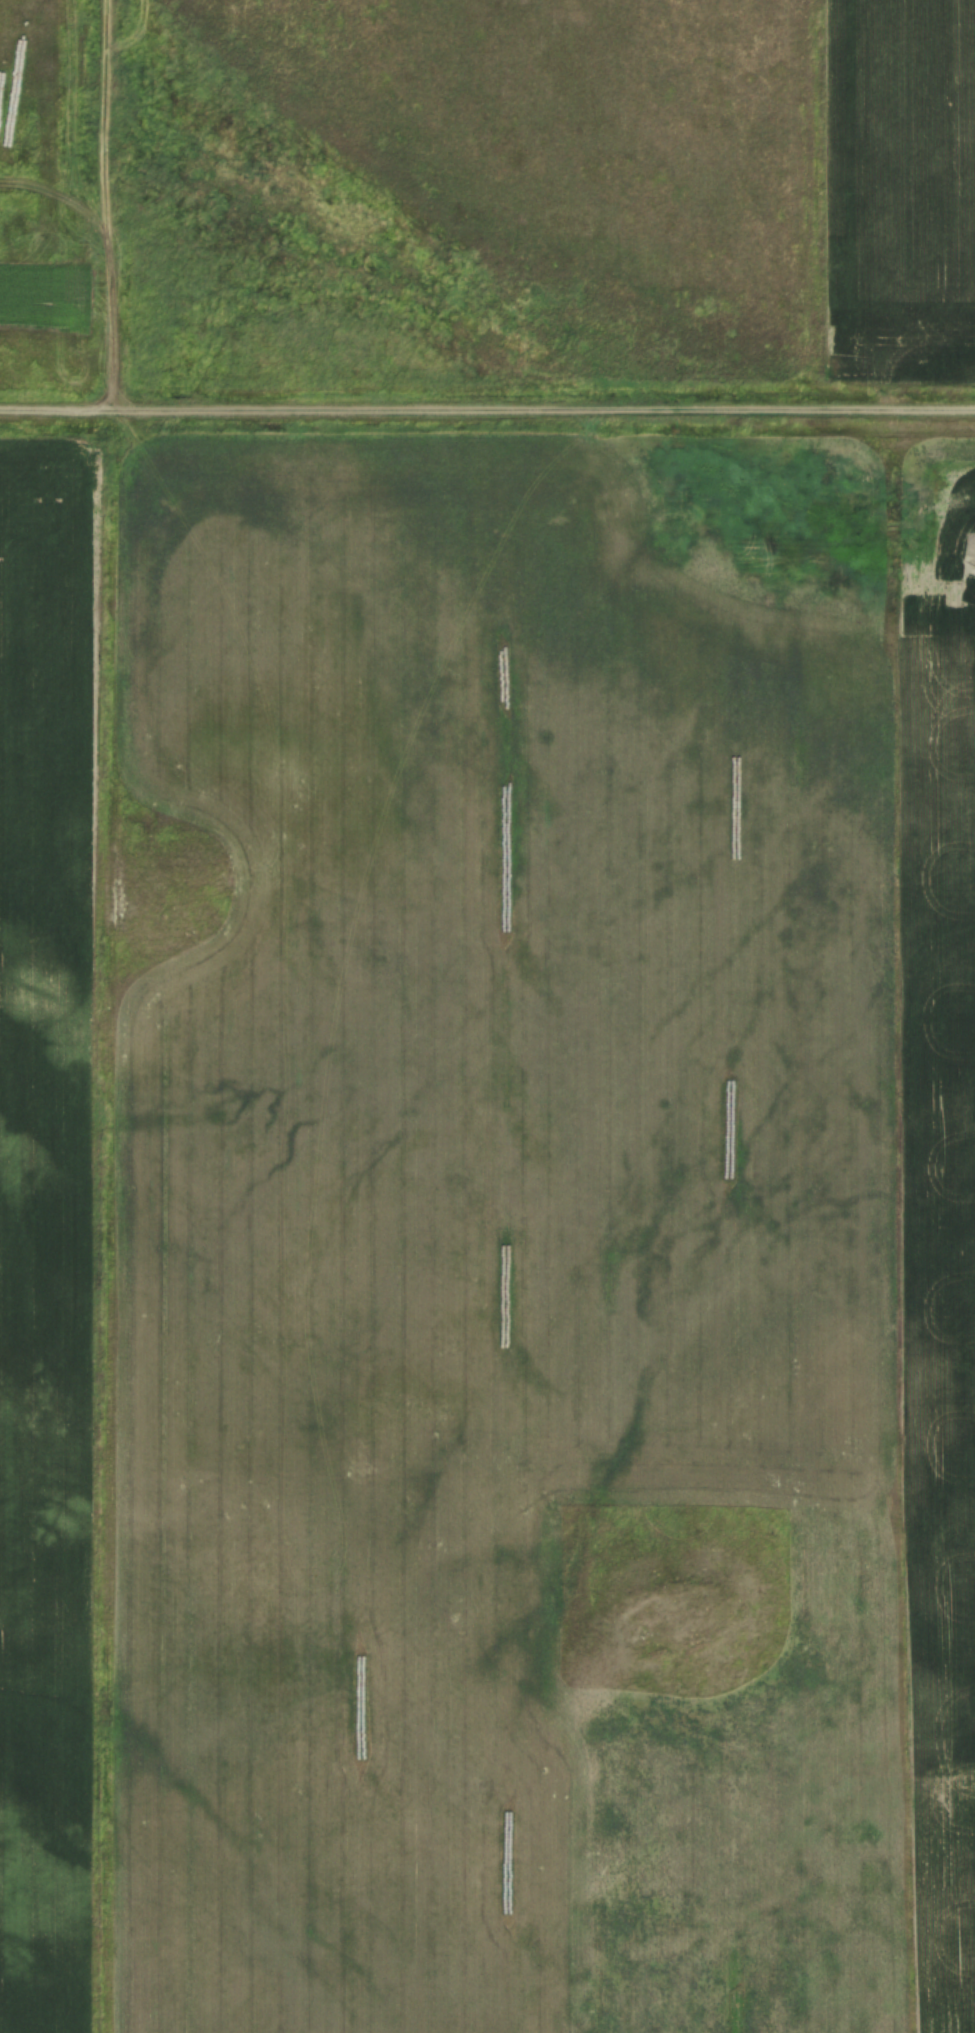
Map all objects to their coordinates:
road: (487, 411)
road: (114, 1015)

